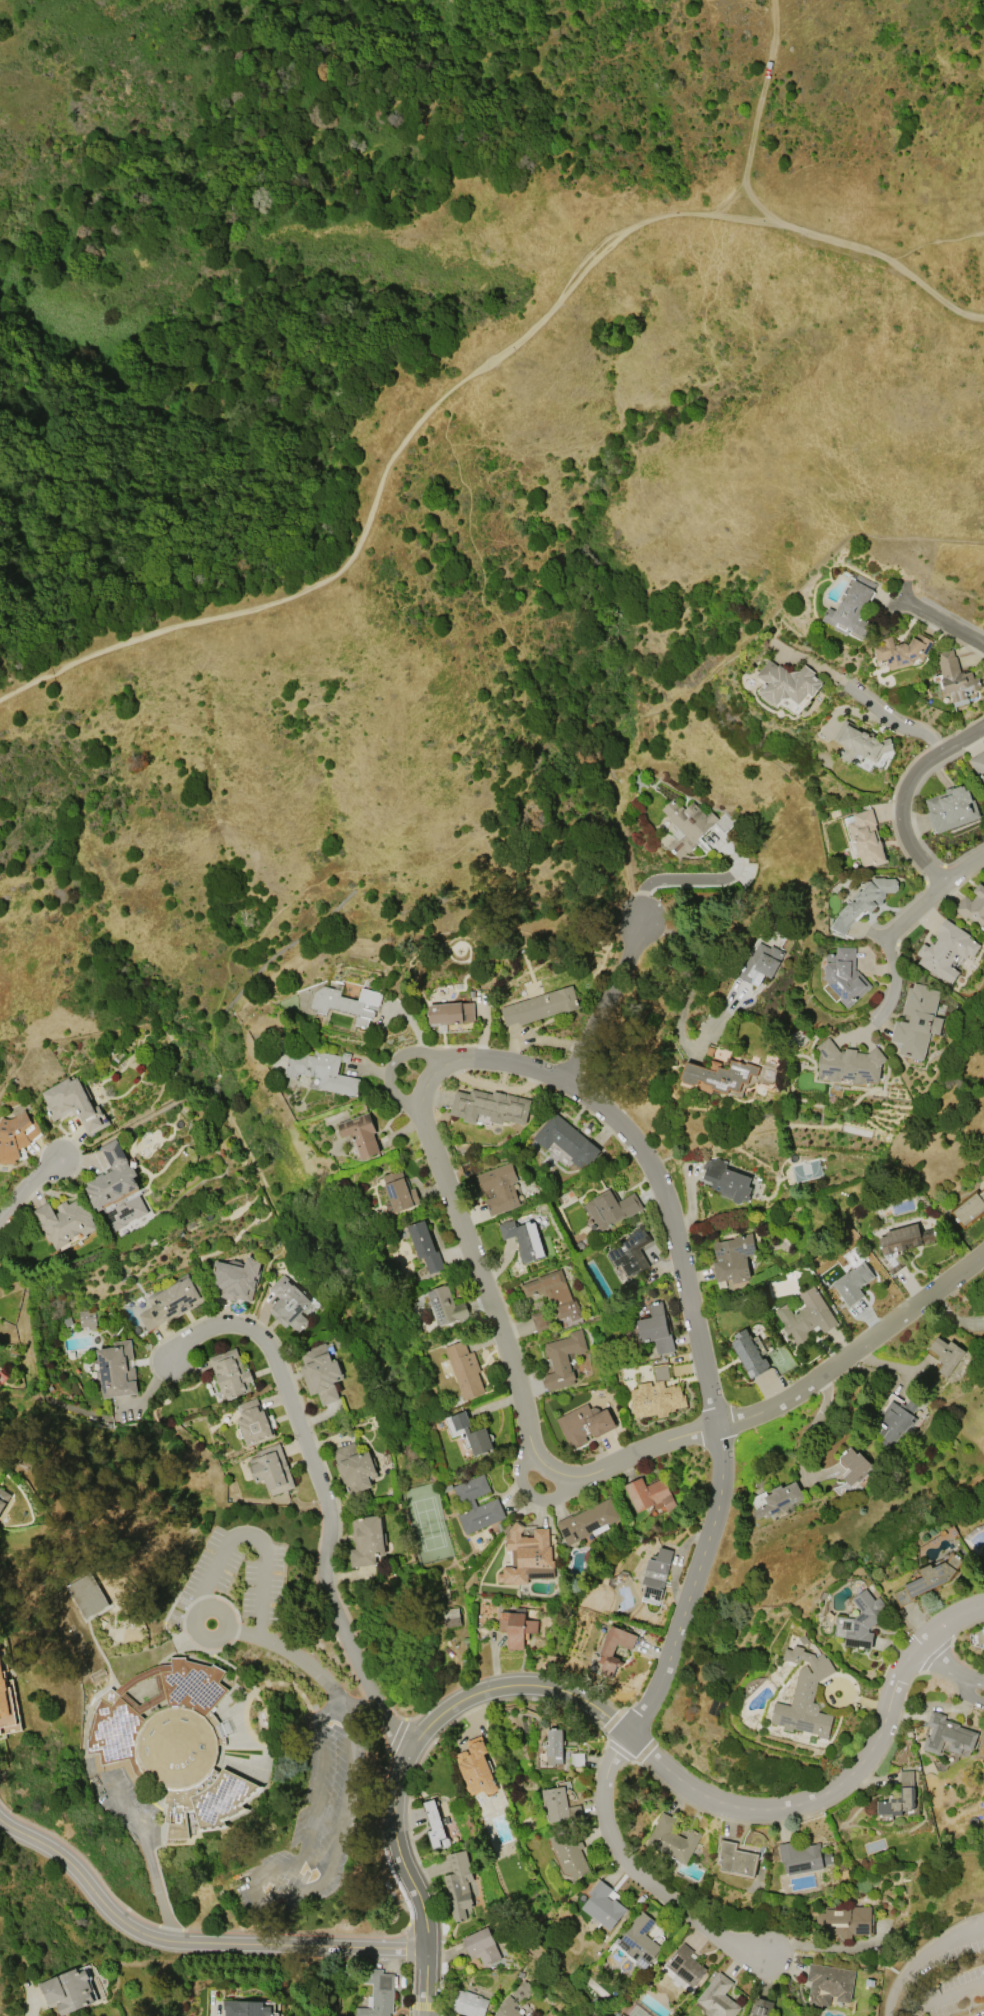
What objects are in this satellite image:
road: (758, 115)
road: (936, 240)
road: (470, 374)
building: (852, 607)
road: (943, 622)
building: (901, 650)
building: (955, 677)
building: (788, 685)
road: (900, 722)
building: (859, 743)
building: (978, 763)
road: (904, 796)
building: (950, 808)
building: (691, 824)
building: (866, 838)
road: (687, 878)
building: (863, 901)
building: (973, 906)
road: (904, 926)
building: (946, 950)
building: (761, 961)
building: (844, 975)
road: (689, 991)
road: (603, 1002)
building: (347, 1003)
building: (540, 1006)
building: (451, 1012)
building: (916, 1020)
building: (848, 1063)
building: (320, 1070)
road: (389, 1071)
building: (720, 1074)
building: (73, 1104)
building: (489, 1106)
building: (361, 1134)
building: (16, 1135)
building: (566, 1140)
building: (726, 1180)
building: (499, 1188)
building: (116, 1189)
road: (29, 1191)
building: (398, 1192)
building: (611, 1208)
building: (969, 1208)
building: (64, 1221)
building: (906, 1237)
building: (524, 1239)
building: (424, 1246)
building: (631, 1251)
building: (732, 1258)
building: (236, 1278)
building: (852, 1282)
building: (554, 1293)
building: (170, 1301)
building: (288, 1304)
building: (445, 1306)
building: (806, 1316)
building: (87, 1318)
building: (540, 1321)
building: (655, 1328)
road: (698, 1332)
building: (749, 1354)
building: (946, 1354)
building: (562, 1359)
building: (116, 1369)
building: (465, 1369)
building: (320, 1372)
building: (231, 1373)
building: (661, 1373)
building: (656, 1399)
building: (895, 1418)
building: (253, 1422)
building: (584, 1423)
road: (811, 1428)
building: (472, 1433)
building: (854, 1465)
building: (354, 1468)
building: (271, 1469)
road: (582, 1476)
building: (843, 1488)
building: (648, 1494)
road: (322, 1495)
building: (3, 1497)
building: (779, 1499)
building: (491, 1503)
building: (586, 1521)
road: (253, 1535)
building: (366, 1540)
building: (527, 1556)
building: (656, 1572)
building: (927, 1579)
building: (87, 1595)
building: (452, 1617)
railway: (441, 1618)
building: (860, 1621)
road: (949, 1625)
building: (516, 1628)
building: (606, 1652)
road: (951, 1668)
road: (969, 1693)
building: (3, 1695)
building: (805, 1695)
road: (578, 1701)
building: (0, 1718)
building: (947, 1734)
building: (172, 1743)
building: (554, 1746)
building: (577, 1759)
building: (476, 1767)
building: (899, 1797)
building: (559, 1805)
building: (433, 1823)
building: (672, 1838)
building: (570, 1853)
road: (148, 1854)
building: (802, 1857)
building: (736, 1859)
road: (634, 1875)
road: (252, 1881)
building: (458, 1885)
building: (603, 1905)
building: (846, 1920)
building: (639, 1941)
road: (192, 1943)
building: (481, 1945)
road: (921, 1960)
building: (685, 1965)
building: (829, 1984)
building: (68, 1991)
building: (377, 1992)
road: (954, 1996)
building: (718, 1997)
building: (514, 2000)
building: (469, 2003)
building: (761, 2007)
building: (245, 2008)
road: (920, 2011)
building: (529, 2015)

